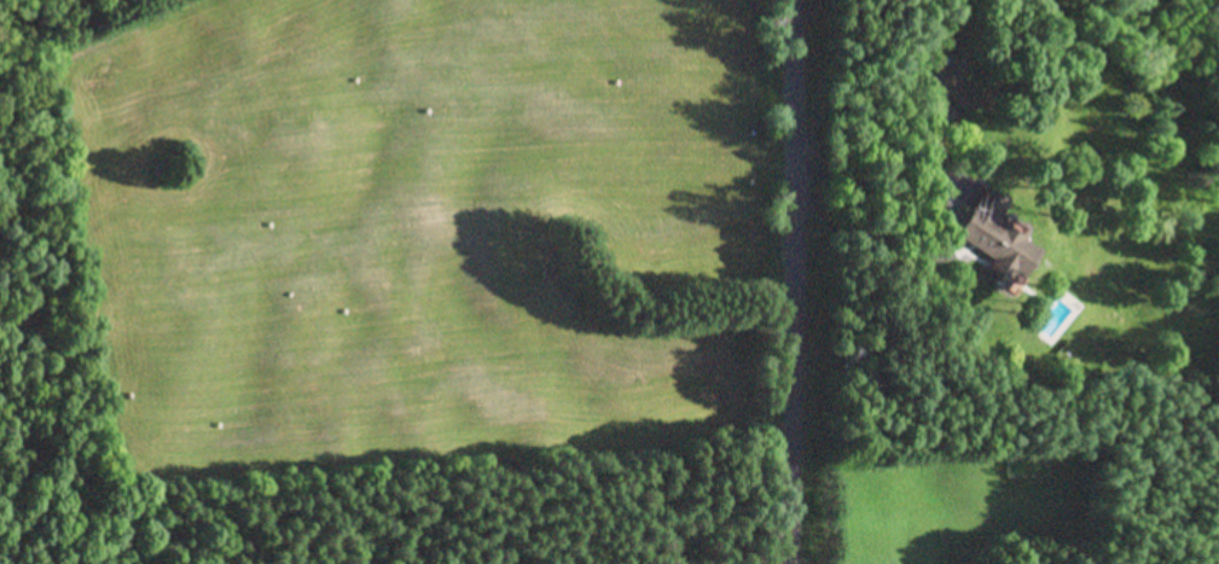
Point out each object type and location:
building: (998, 246)
road: (783, 281)

